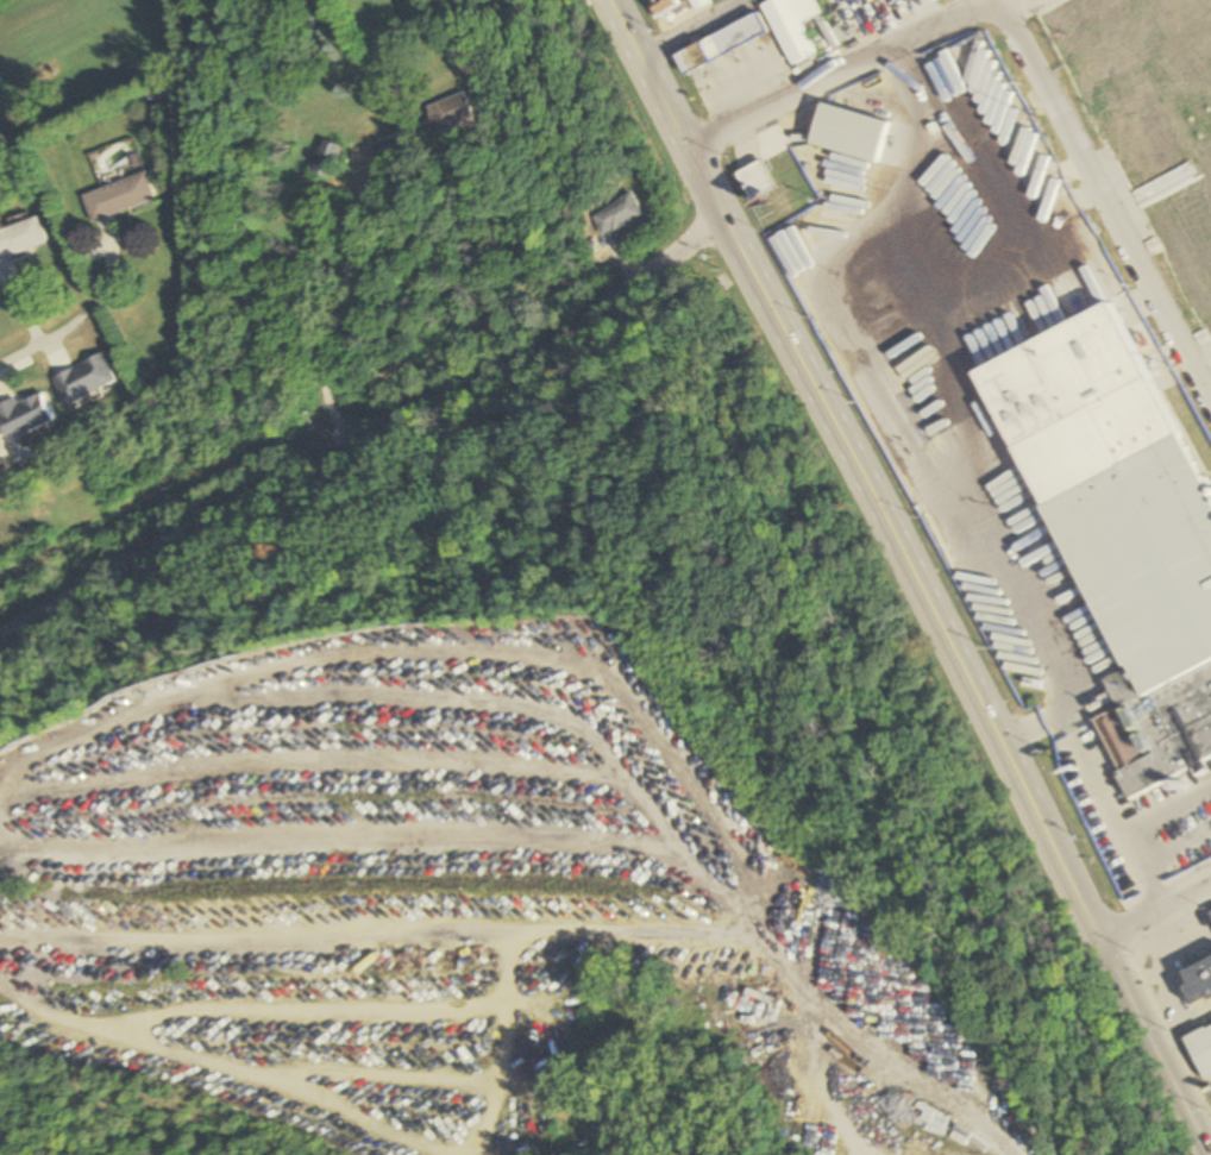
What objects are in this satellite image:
building: (661, 6)
building: (796, 26)
road: (689, 27)
building: (720, 44)
road: (644, 74)
road: (839, 75)
building: (440, 112)
building: (849, 133)
building: (1167, 133)
building: (325, 159)
building: (755, 181)
building: (117, 196)
road: (1103, 202)
building: (615, 215)
building: (20, 237)
road: (75, 319)
building: (82, 379)
road: (362, 415)
building: (21, 416)
road: (902, 545)
building: (1136, 573)
building: (1210, 914)
road: (1157, 919)
building: (15, 943)
building: (1197, 981)
road: (1181, 1025)
building: (1199, 1047)
road: (883, 1048)
road: (1156, 1052)
building: (958, 1135)
road: (1207, 1142)

